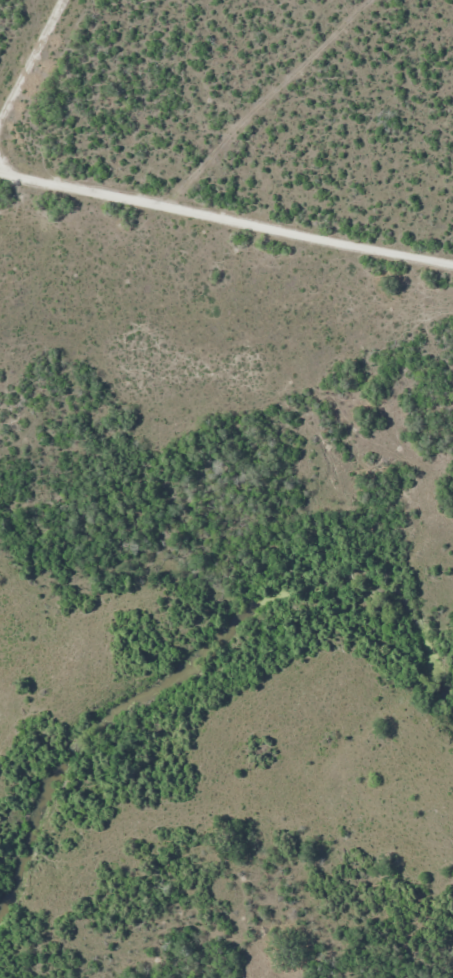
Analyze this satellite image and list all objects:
road: (227, 245)

